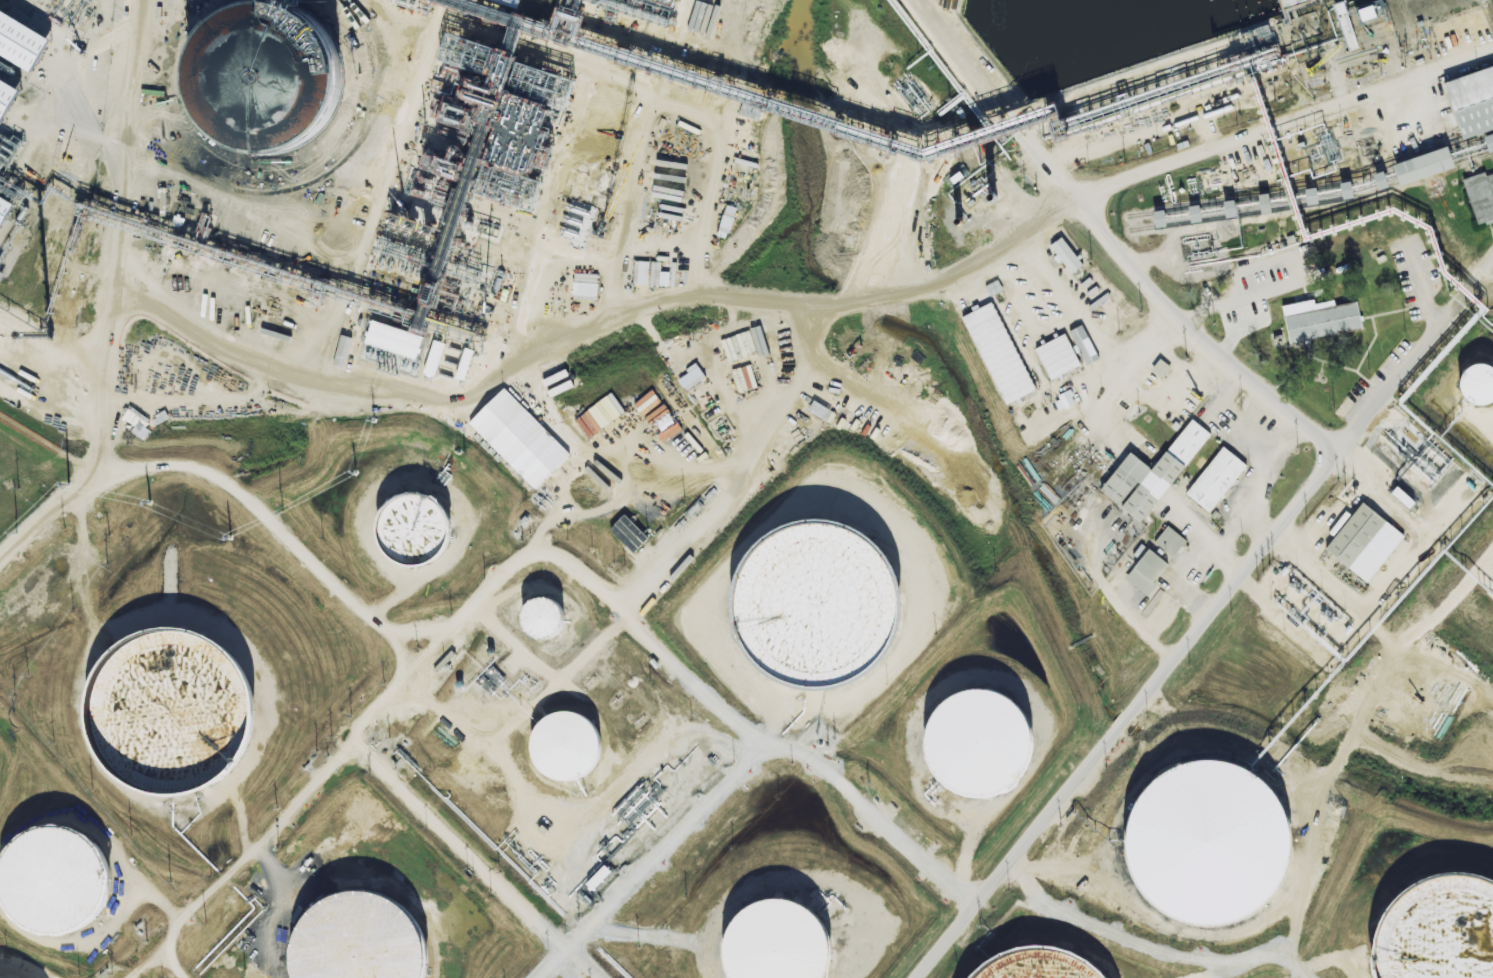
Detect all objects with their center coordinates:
building: (19, 51)
building: (466, 52)
building: (261, 70)
road: (1396, 71)
building: (4, 101)
building: (1470, 102)
road: (1287, 136)
building: (1488, 142)
building: (1492, 160)
building: (1416, 167)
railway: (1313, 191)
building: (1478, 197)
railway: (1315, 203)
building: (1263, 204)
building: (1228, 209)
building: (4, 212)
building: (236, 217)
building: (726, 219)
building: (1158, 219)
road: (1111, 245)
building: (1065, 256)
building: (584, 287)
road: (1481, 292)
building: (1318, 319)
building: (997, 353)
building: (1056, 357)
building: (433, 358)
building: (388, 361)
building: (1159, 369)
building: (690, 377)
building: (1479, 389)
storage tank: (1479, 389)
building: (510, 430)
building: (1187, 443)
building: (590, 454)
storage tank: (590, 454)
building: (1122, 478)
building: (1216, 479)
building: (1401, 498)
building: (415, 533)
storage tank: (415, 533)
building: (627, 534)
building: (1351, 537)
building: (1170, 540)
building: (1145, 571)
building: (815, 604)
building: (544, 620)
storage tank: (544, 620)
road: (1206, 620)
road: (436, 647)
building: (174, 713)
storage tank: (174, 713)
building: (982, 745)
storage tank: (982, 745)
building: (568, 750)
storage tank: (568, 750)
road: (763, 757)
road: (242, 859)
building: (58, 883)
storage tank: (58, 883)
building: (1439, 931)
storage tank: (1439, 931)
building: (362, 942)
storage tank: (362, 942)
building: (780, 942)
storage tank: (780, 942)
building: (1039, 965)
storage tank: (1039, 965)
road: (564, 969)
road: (1158, 974)

